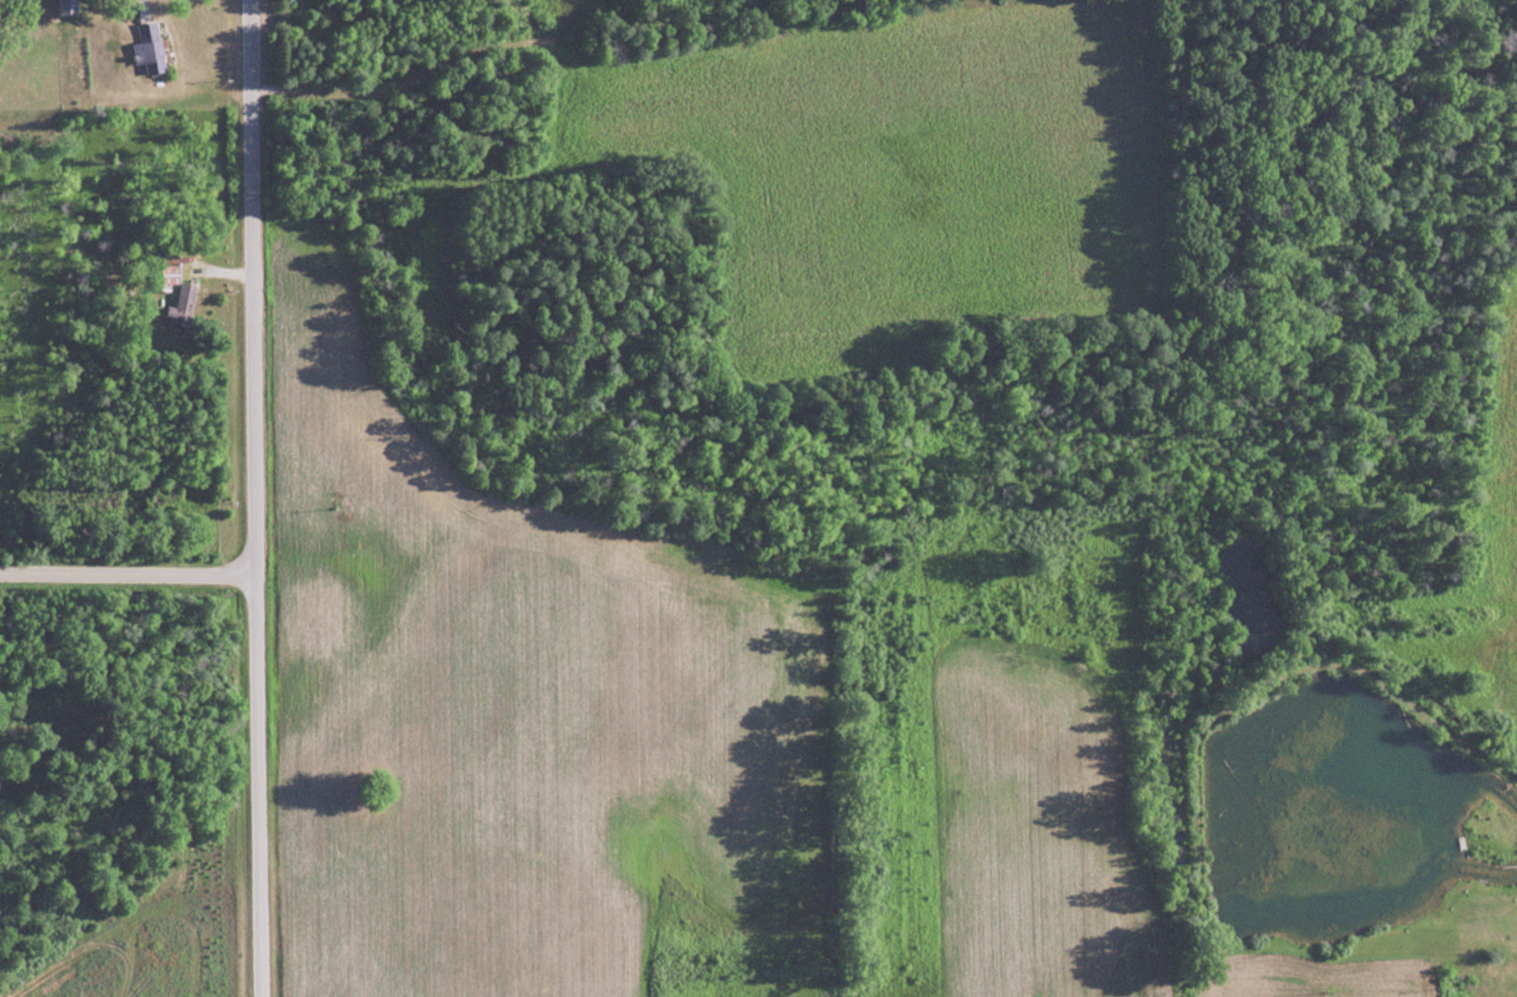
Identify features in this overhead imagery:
building: (67, 7)
building: (150, 48)
road: (256, 498)
road: (128, 583)

